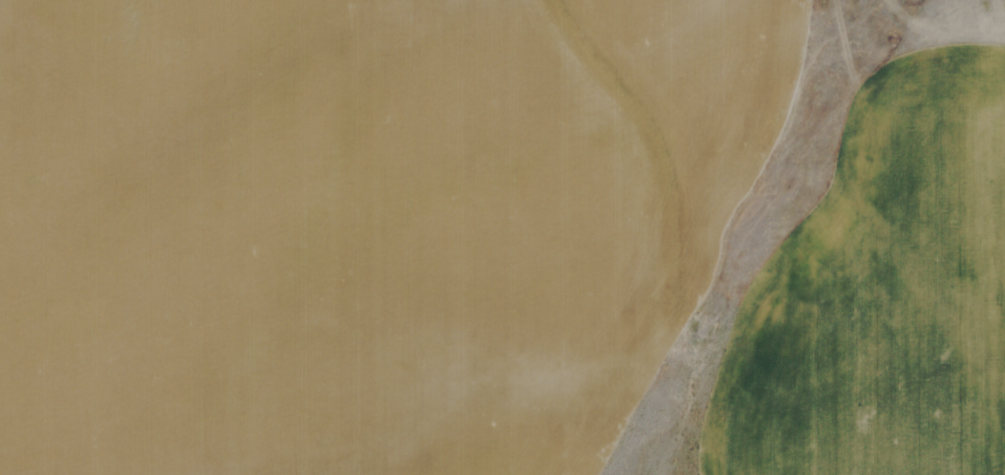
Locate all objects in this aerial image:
crop: (502, 237)

